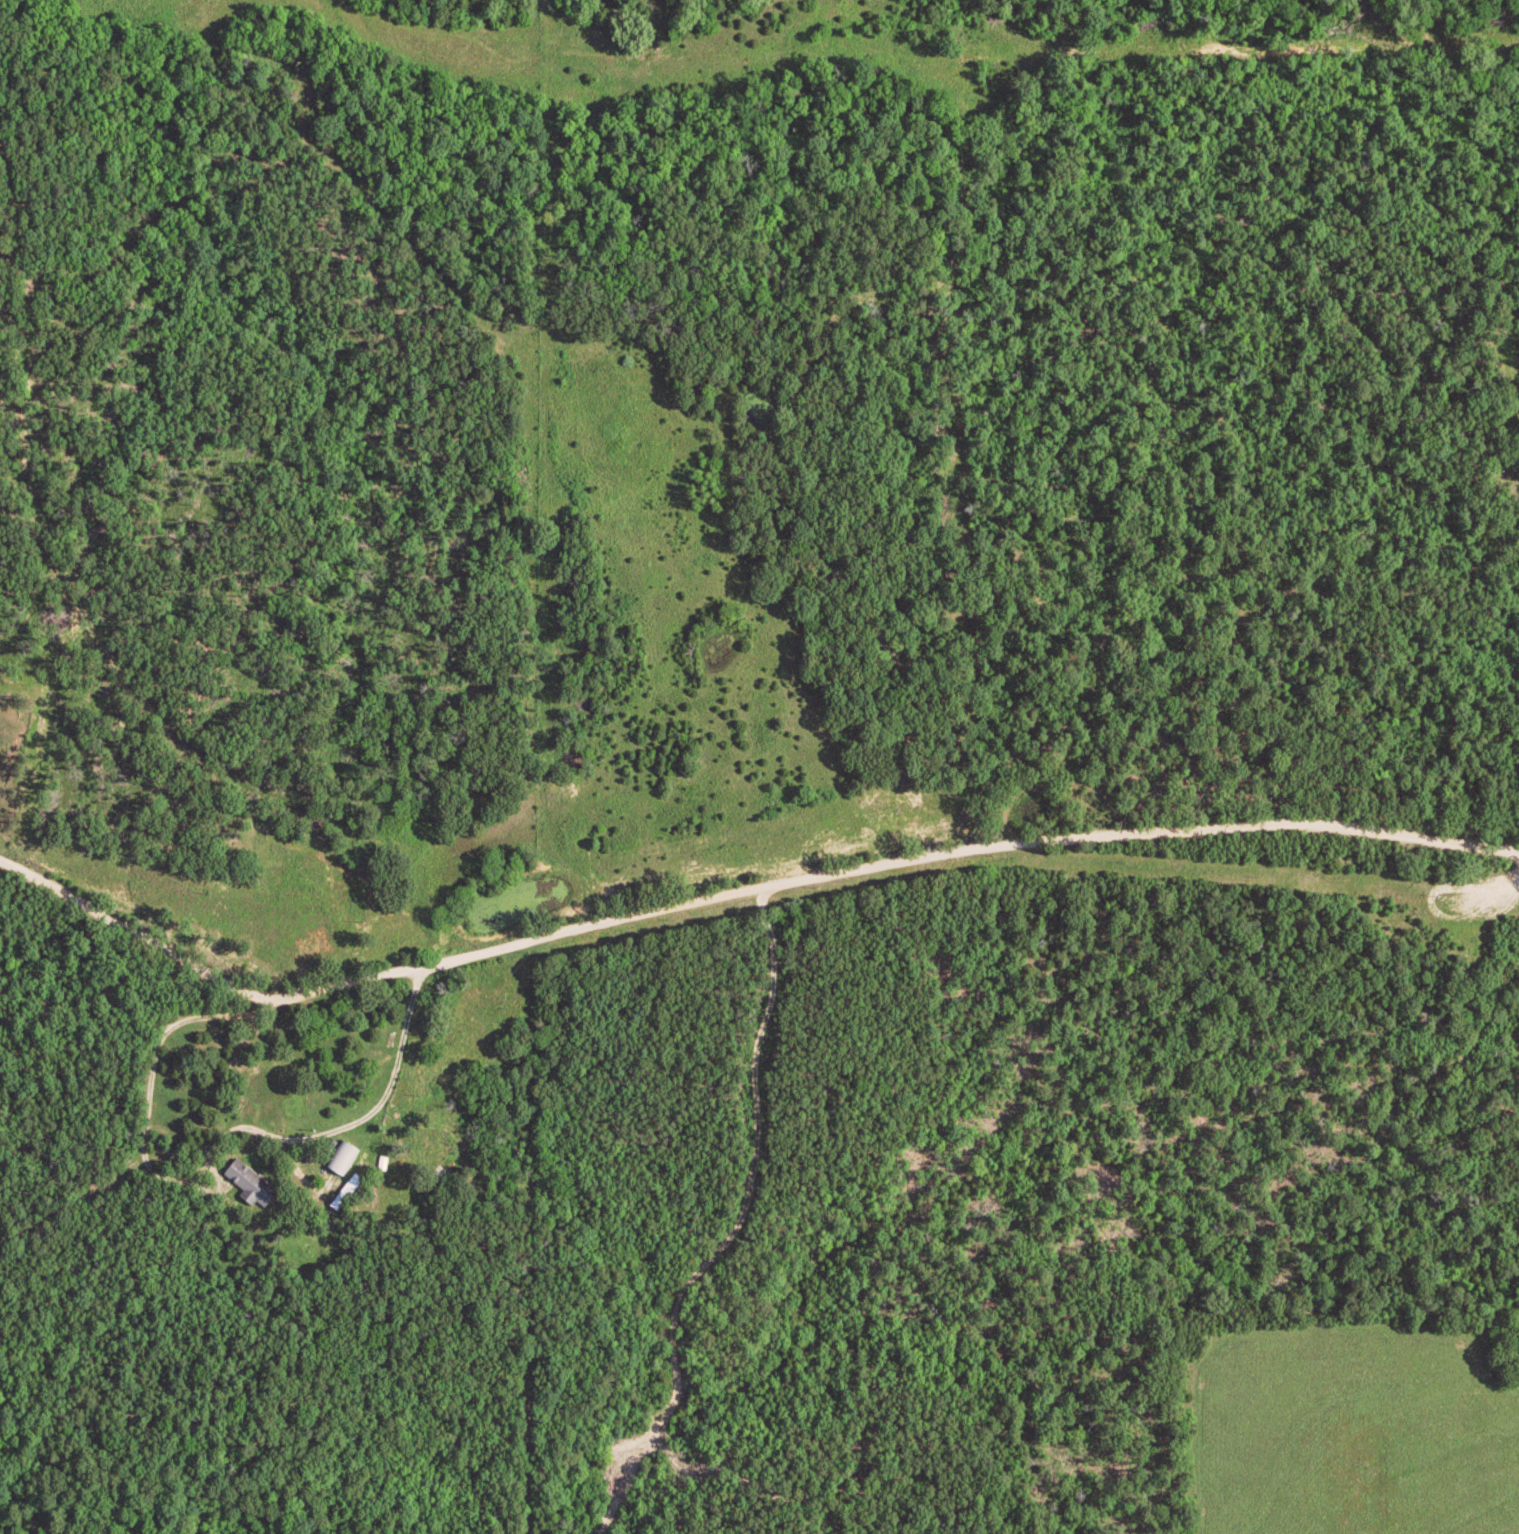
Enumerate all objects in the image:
park: (18, 755)
road: (744, 888)
road: (399, 1043)
road: (139, 1077)
building: (348, 1159)
building: (253, 1185)
building: (350, 1193)

